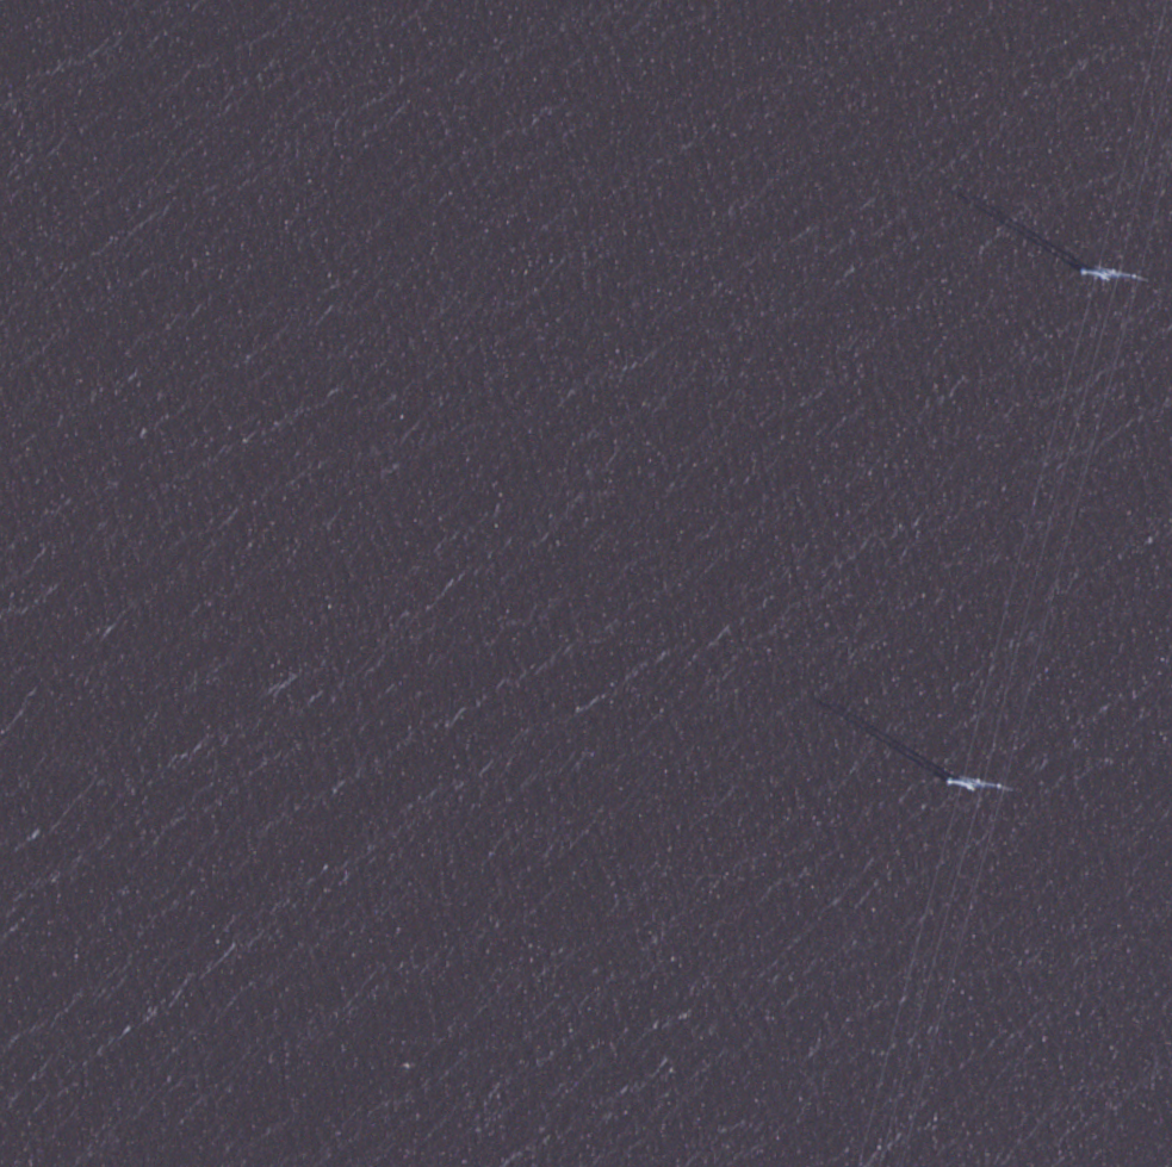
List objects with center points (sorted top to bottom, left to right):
power tower: (1086, 278)
power tower: (954, 790)

